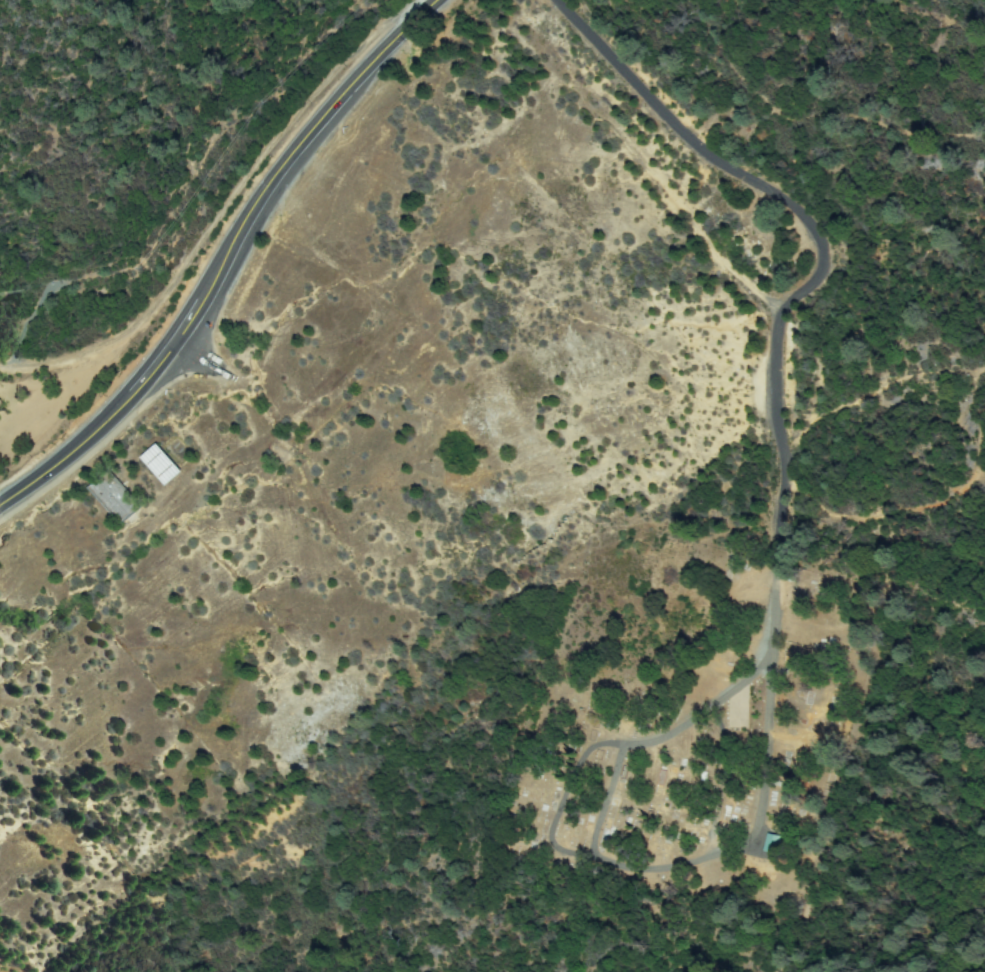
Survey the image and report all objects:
road: (224, 204)
road: (220, 255)
road: (819, 266)
building: (164, 465)
building: (117, 498)
park: (703, 763)
building: (774, 843)
road: (585, 853)

